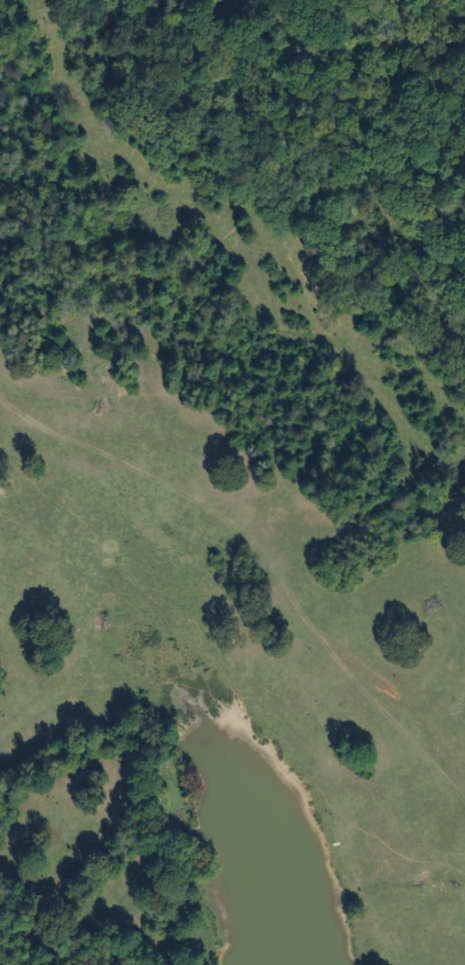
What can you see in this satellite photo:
road: (238, 577)

